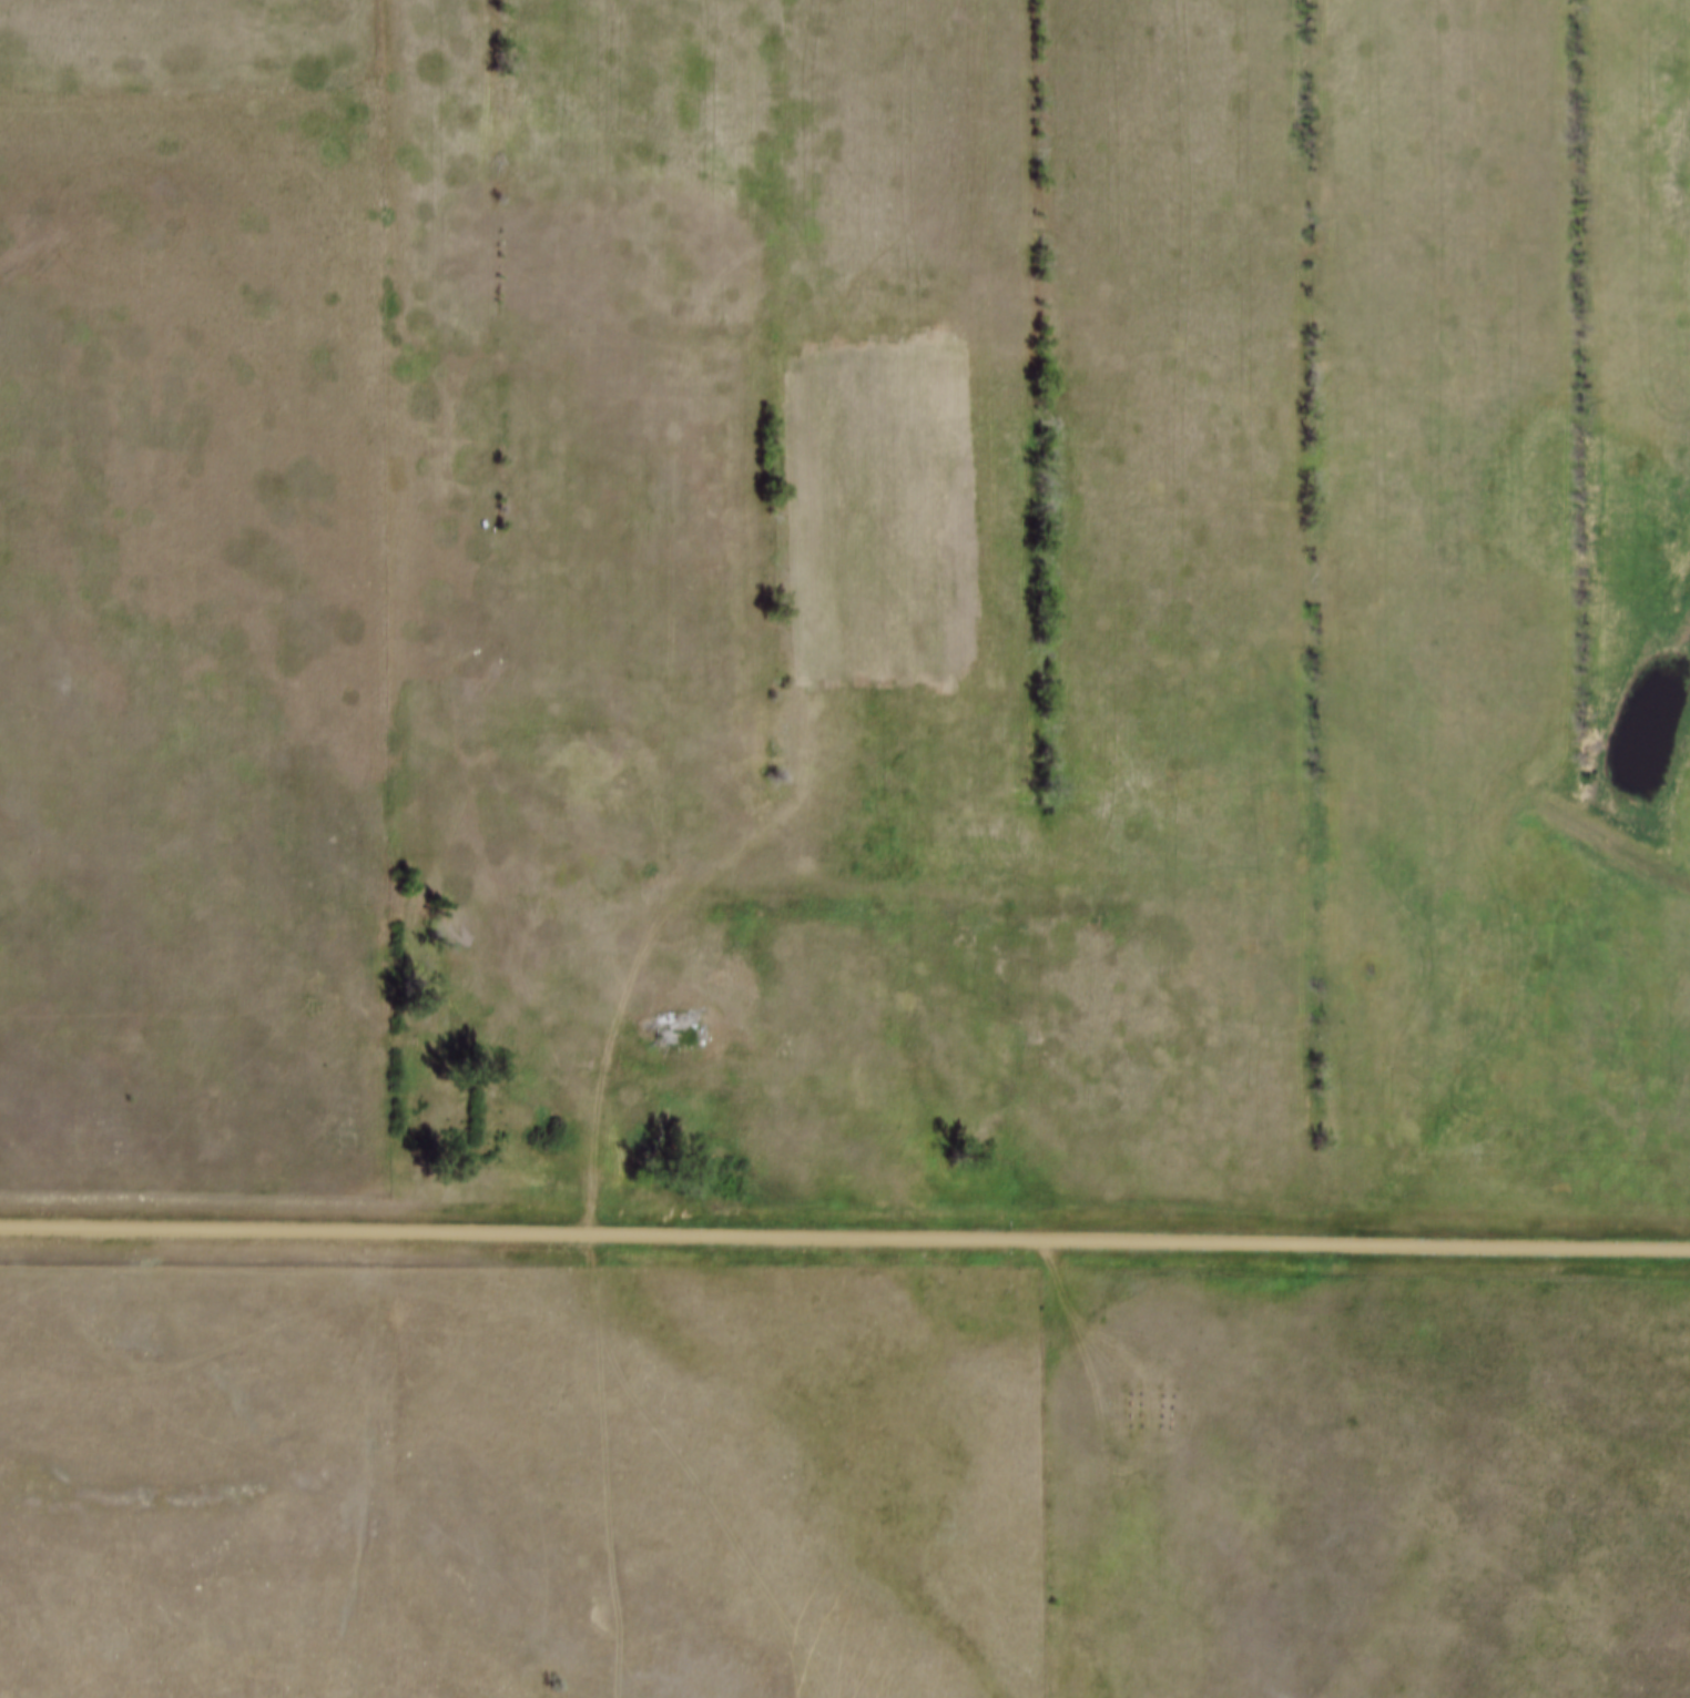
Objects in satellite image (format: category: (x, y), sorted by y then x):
road: (845, 1236)

